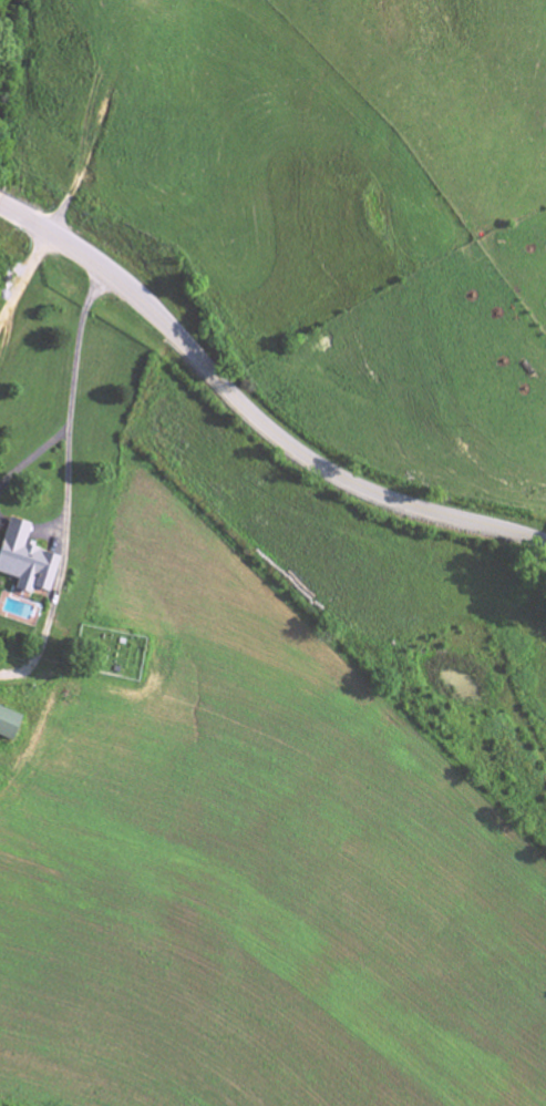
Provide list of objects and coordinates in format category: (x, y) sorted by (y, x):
road: (21, 275)
road: (65, 387)
road: (250, 413)
building: (23, 561)
road: (56, 566)
building: (8, 727)

